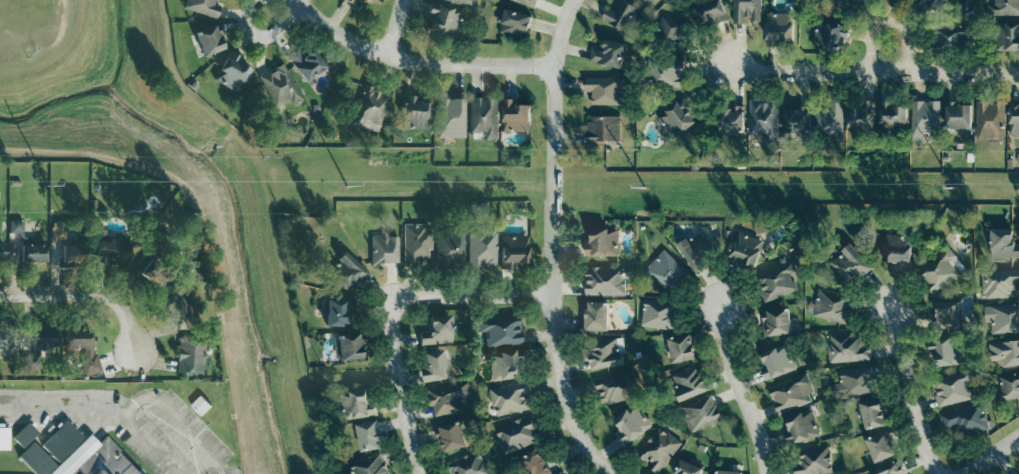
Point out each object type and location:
building: (648, 1)
building: (528, 2)
building: (362, 3)
building: (462, 3)
building: (845, 4)
building: (934, 4)
building: (203, 7)
building: (1002, 7)
building: (708, 9)
building: (745, 11)
building: (623, 16)
road: (888, 18)
building: (446, 21)
building: (514, 23)
road: (395, 27)
building: (779, 27)
road: (560, 31)
park: (35, 32)
building: (673, 33)
building: (829, 36)
building: (1007, 36)
building: (949, 37)
road: (266, 39)
building: (210, 40)
building: (609, 53)
road: (421, 60)
building: (305, 62)
building: (665, 72)
road: (816, 72)
building: (232, 73)
road: (962, 73)
building: (280, 87)
building: (604, 89)
building: (370, 108)
building: (416, 113)
building: (515, 115)
building: (860, 115)
building: (958, 115)
building: (891, 116)
building: (483, 117)
building: (677, 117)
building: (762, 117)
building: (451, 118)
building: (730, 119)
building: (1014, 119)
building: (796, 120)
building: (924, 120)
building: (990, 120)
building: (829, 121)
building: (603, 128)
building: (604, 241)
building: (415, 243)
building: (1004, 243)
building: (111, 248)
building: (450, 249)
building: (482, 249)
building: (697, 249)
building: (896, 249)
building: (384, 250)
building: (744, 250)
building: (514, 251)
building: (2, 252)
building: (34, 253)
building: (68, 253)
building: (849, 264)
building: (940, 269)
building: (667, 272)
building: (349, 273)
road: (552, 276)
building: (604, 280)
building: (776, 281)
building: (998, 282)
road: (471, 295)
road: (84, 298)
building: (831, 305)
building: (176, 307)
building: (337, 313)
building: (659, 314)
building: (947, 314)
building: (597, 315)
building: (1001, 318)
building: (776, 321)
building: (437, 331)
building: (500, 331)
building: (79, 339)
building: (9, 340)
building: (40, 346)
building: (348, 347)
building: (846, 347)
building: (681, 348)
building: (946, 350)
building: (1005, 351)
building: (607, 353)
building: (190, 357)
building: (775, 361)
building: (505, 364)
building: (436, 365)
building: (690, 382)
building: (853, 382)
building: (1008, 385)
building: (616, 386)
building: (953, 388)
road: (738, 389)
road: (398, 390)
building: (791, 393)
road: (906, 394)
road: (157, 395)
building: (510, 397)
building: (449, 398)
building: (356, 402)
building: (200, 404)
building: (700, 413)
building: (872, 413)
building: (966, 419)
building: (632, 422)
building: (800, 426)
building: (518, 433)
building: (369, 435)
building: (24, 436)
building: (451, 436)
building: (4, 439)
building: (881, 446)
building: (658, 449)
building: (87, 452)
road: (990, 453)
building: (812, 461)
building: (535, 463)
building: (469, 464)
building: (368, 465)
building: (689, 468)
building: (889, 469)
building: (728, 472)
building: (557, 473)
building: (561, 473)

